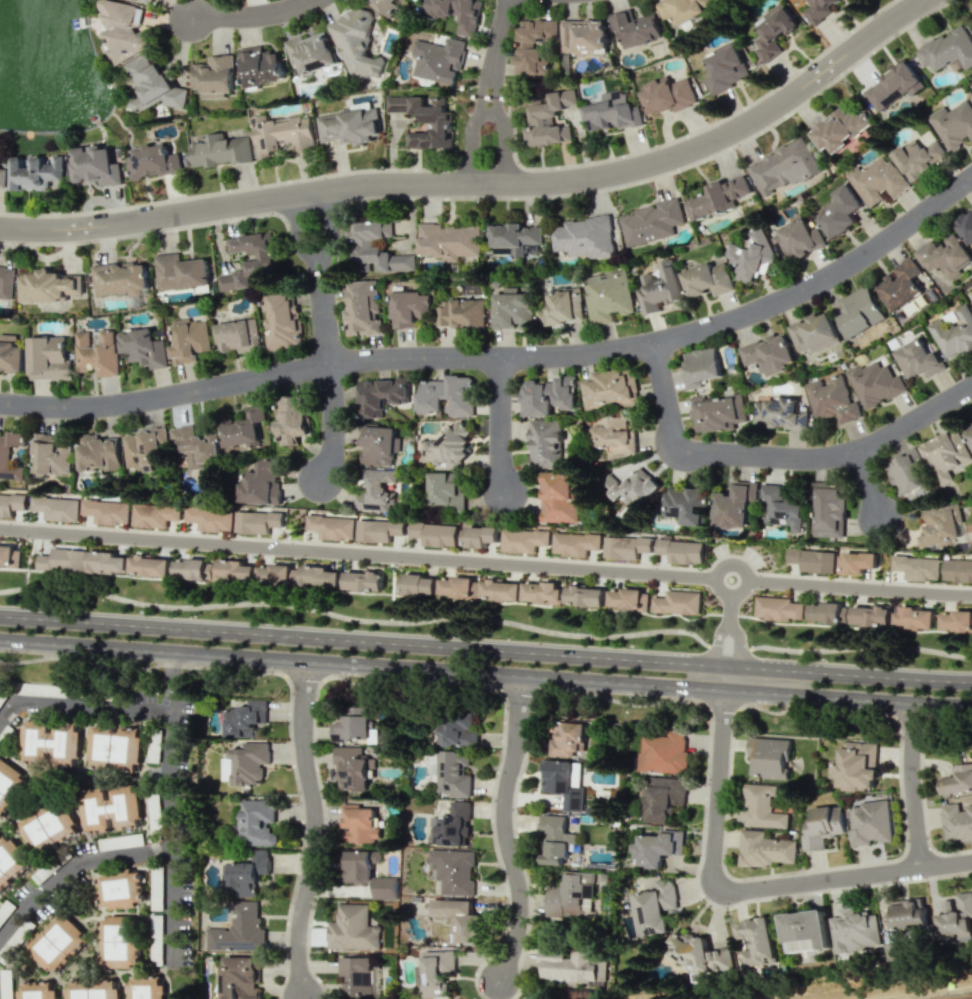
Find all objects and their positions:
building: (146, 2)
building: (385, 5)
building: (682, 8)
building: (818, 9)
road: (252, 13)
building: (456, 13)
building: (123, 29)
building: (637, 29)
building: (774, 31)
building: (584, 36)
building: (356, 42)
building: (533, 44)
road: (498, 45)
building: (947, 49)
building: (310, 52)
building: (438, 60)
building: (260, 66)
building: (725, 69)
building: (214, 76)
building: (152, 85)
building: (893, 86)
building: (668, 95)
building: (614, 112)
building: (425, 120)
building: (550, 120)
building: (350, 124)
building: (953, 124)
building: (838, 129)
building: (284, 135)
road: (490, 138)
building: (221, 151)
building: (919, 158)
building: (153, 162)
building: (95, 165)
building: (783, 167)
building: (36, 172)
building: (3, 177)
building: (878, 181)
road: (485, 185)
building: (717, 198)
building: (839, 212)
building: (651, 222)
building: (966, 228)
building: (584, 237)
building: (513, 238)
building: (797, 238)
building: (448, 241)
building: (378, 246)
building: (752, 254)
building: (945, 257)
building: (249, 261)
building: (180, 272)
building: (118, 278)
building: (708, 279)
building: (6, 282)
building: (901, 284)
building: (659, 287)
building: (608, 295)
building: (565, 306)
building: (514, 307)
building: (362, 308)
building: (410, 308)
building: (860, 311)
building: (462, 313)
building: (282, 320)
building: (814, 333)
building: (954, 333)
building: (239, 335)
road: (330, 337)
building: (144, 347)
building: (97, 353)
building: (769, 353)
building: (11, 354)
road: (506, 356)
building: (49, 358)
building: (918, 359)
building: (700, 366)
building: (875, 383)
building: (613, 388)
building: (380, 396)
building: (446, 396)
building: (548, 396)
building: (832, 399)
building: (717, 412)
building: (779, 413)
building: (291, 420)
road: (499, 424)
building: (243, 429)
building: (968, 432)
building: (614, 435)
building: (545, 443)
building: (378, 445)
building: (196, 446)
building: (144, 447)
building: (447, 448)
building: (99, 453)
building: (4, 455)
building: (51, 455)
building: (946, 455)
road: (778, 456)
building: (906, 472)
building: (261, 483)
road: (871, 483)
building: (630, 484)
building: (445, 489)
building: (374, 491)
building: (560, 496)
building: (12, 503)
building: (685, 504)
building: (734, 505)
building: (57, 508)
building: (779, 508)
building: (829, 510)
building: (107, 511)
building: (155, 515)
building: (211, 518)
building: (258, 521)
building: (332, 526)
building: (941, 526)
building: (379, 530)
building: (435, 533)
building: (481, 536)
building: (524, 540)
building: (575, 543)
building: (627, 547)
building: (680, 550)
building: (9, 556)
building: (62, 560)
road: (486, 560)
building: (813, 560)
building: (106, 561)
building: (857, 562)
building: (149, 565)
building: (917, 567)
building: (193, 568)
building: (234, 570)
building: (957, 570)
building: (275, 574)
building: (319, 576)
building: (364, 580)
building: (416, 584)
building: (459, 587)
building: (500, 590)
building: (543, 592)
building: (584, 595)
building: (628, 599)
building: (677, 602)
building: (778, 608)
building: (826, 612)
building: (871, 616)
building: (914, 618)
road: (486, 620)
building: (956, 621)
road: (728, 634)
road: (485, 648)
road: (169, 669)
road: (485, 673)
road: (82, 704)
building: (245, 718)
building: (352, 725)
building: (458, 731)
building: (567, 739)
building: (51, 743)
building: (115, 747)
building: (664, 753)
building: (769, 757)
building: (250, 762)
building: (857, 764)
building: (452, 774)
building: (7, 779)
building: (957, 780)
building: (565, 783)
road: (910, 784)
building: (663, 798)
building: (763, 807)
building: (110, 809)
building: (257, 822)
building: (870, 822)
building: (957, 822)
building: (358, 824)
road: (170, 826)
building: (451, 826)
building: (823, 826)
building: (49, 827)
road: (315, 827)
road: (508, 831)
building: (555, 839)
building: (657, 847)
building: (766, 849)
building: (11, 860)
building: (358, 865)
road: (72, 867)
building: (454, 870)
building: (248, 871)
building: (384, 888)
road: (744, 889)
building: (120, 890)
building: (568, 895)
building: (655, 907)
building: (907, 913)
building: (954, 919)
building: (460, 920)
building: (351, 928)
building: (805, 931)
building: (853, 931)
building: (236, 937)
building: (57, 942)
building: (755, 942)
building: (118, 943)
building: (891, 951)
building: (698, 953)
building: (569, 966)
building: (436, 972)
building: (239, 977)
building: (358, 977)
building: (144, 988)
building: (36, 990)
building: (91, 990)
road: (957, 996)

